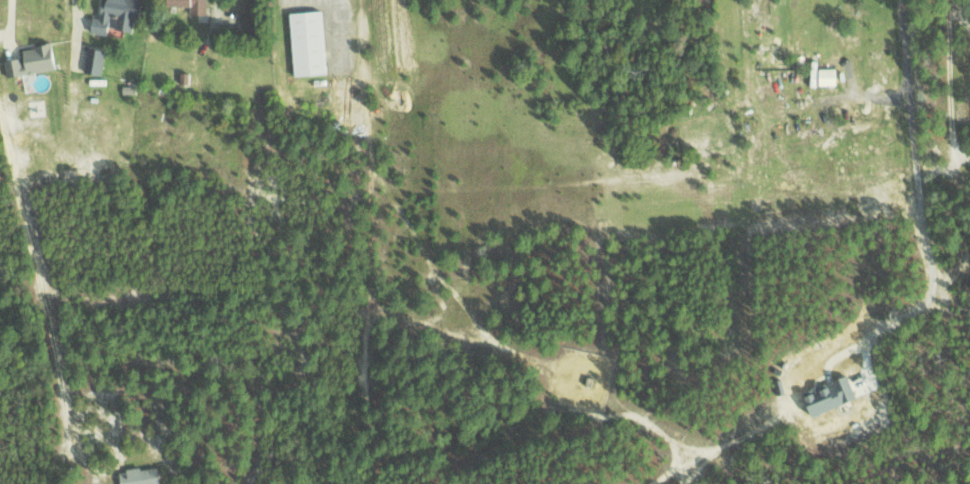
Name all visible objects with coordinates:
building: (185, 6)
building: (114, 16)
building: (304, 43)
building: (32, 60)
building: (92, 61)
building: (825, 76)
building: (183, 78)
building: (346, 99)
road: (924, 173)
building: (825, 394)
road: (865, 456)
building: (137, 475)

